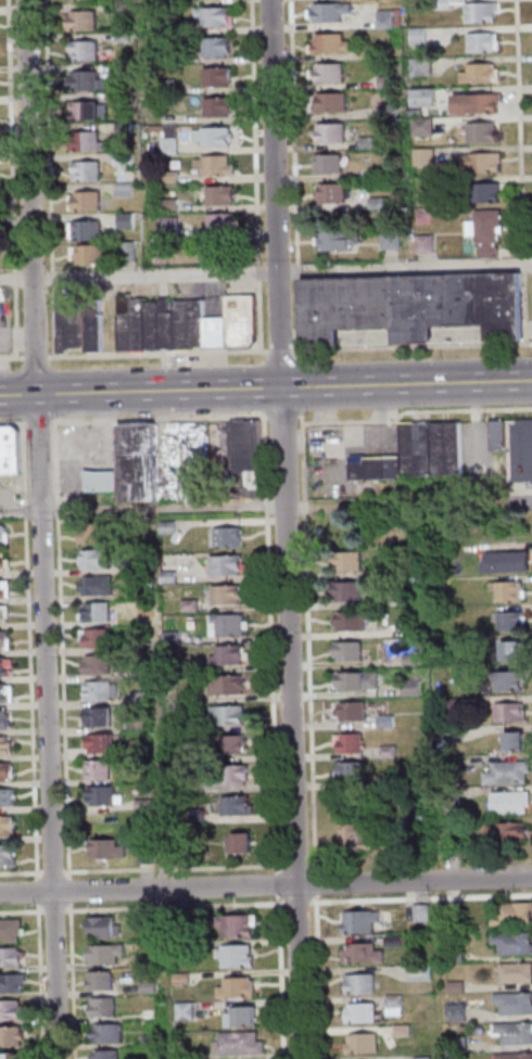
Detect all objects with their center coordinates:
building: (78, 0)
building: (454, 2)
building: (440, 4)
building: (117, 12)
building: (326, 12)
building: (477, 13)
building: (210, 16)
building: (382, 20)
building: (78, 22)
building: (164, 28)
road: (478, 29)
building: (119, 38)
building: (415, 38)
road: (507, 42)
building: (326, 43)
building: (479, 44)
building: (213, 48)
building: (80, 51)
building: (165, 58)
road: (490, 60)
building: (119, 71)
building: (325, 74)
building: (476, 74)
road: (507, 74)
building: (214, 77)
building: (84, 81)
building: (383, 82)
building: (163, 87)
road: (484, 89)
building: (420, 98)
building: (121, 101)
building: (328, 102)
building: (473, 104)
road: (516, 104)
building: (215, 107)
building: (385, 111)
building: (85, 112)
road: (483, 119)
building: (419, 127)
building: (121, 128)
building: (328, 132)
building: (478, 132)
building: (210, 138)
building: (166, 141)
building: (84, 142)
building: (365, 142)
road: (524, 148)
road: (478, 150)
building: (421, 157)
building: (121, 160)
road: (509, 160)
building: (325, 163)
building: (479, 163)
building: (212, 166)
building: (84, 171)
building: (377, 171)
building: (167, 177)
road: (291, 177)
road: (520, 178)
road: (50, 179)
road: (9, 180)
building: (122, 190)
building: (330, 193)
building: (482, 193)
road: (31, 196)
building: (217, 196)
building: (84, 202)
building: (375, 203)
building: (166, 205)
road: (522, 209)
building: (126, 219)
building: (223, 221)
building: (168, 224)
building: (85, 229)
building: (490, 230)
road: (519, 232)
road: (527, 235)
road: (515, 237)
building: (343, 240)
building: (394, 240)
building: (428, 244)
building: (127, 251)
building: (88, 253)
road: (405, 266)
road: (156, 276)
road: (16, 279)
building: (414, 304)
building: (240, 318)
building: (124, 320)
building: (188, 321)
building: (137, 322)
building: (68, 323)
building: (92, 323)
building: (151, 323)
building: (165, 324)
building: (214, 331)
road: (414, 348)
road: (284, 352)
road: (162, 355)
road: (39, 358)
road: (13, 359)
road: (284, 388)
road: (18, 395)
road: (15, 424)
road: (36, 424)
road: (479, 424)
building: (502, 435)
building: (434, 448)
building: (521, 449)
building: (14, 450)
building: (2, 451)
building: (250, 451)
building: (141, 462)
building: (380, 468)
building: (105, 480)
building: (225, 488)
road: (207, 505)
building: (172, 527)
road: (288, 528)
building: (99, 533)
building: (5, 535)
building: (231, 536)
building: (98, 559)
building: (352, 560)
building: (3, 561)
building: (509, 562)
building: (229, 564)
building: (413, 567)
building: (173, 576)
building: (99, 585)
building: (5, 588)
building: (351, 591)
building: (510, 591)
building: (230, 594)
building: (404, 601)
building: (193, 605)
building: (100, 611)
building: (5, 613)
building: (514, 620)
building: (356, 621)
building: (231, 626)
building: (416, 626)
building: (176, 637)
building: (100, 638)
building: (5, 641)
road: (50, 642)
building: (454, 643)
building: (352, 650)
building: (515, 650)
road: (33, 652)
building: (231, 654)
building: (415, 659)
building: (100, 663)
building: (195, 665)
building: (8, 666)
building: (360, 680)
building: (507, 680)
building: (229, 686)
building: (415, 688)
building: (102, 690)
building: (8, 693)
building: (142, 698)
building: (453, 707)
building: (355, 711)
building: (514, 712)
building: (235, 715)
building: (102, 716)
building: (5, 719)
building: (141, 719)
building: (390, 722)
building: (198, 727)
building: (518, 740)
building: (353, 742)
building: (103, 743)
building: (235, 743)
building: (4, 745)
building: (142, 748)
building: (392, 751)
building: (199, 758)
building: (102, 769)
building: (7, 770)
building: (357, 770)
building: (239, 774)
building: (510, 774)
building: (417, 775)
building: (200, 786)
building: (103, 794)
building: (9, 796)
building: (455, 798)
building: (512, 802)
building: (148, 803)
building: (242, 804)
building: (201, 815)
building: (8, 826)
building: (510, 831)
building: (364, 839)
building: (242, 842)
building: (455, 844)
building: (112, 847)
building: (10, 854)
building: (150, 854)
building: (181, 854)
road: (296, 865)
road: (52, 871)
road: (23, 872)
road: (295, 885)
road: (319, 890)
road: (281, 891)
road: (40, 892)
road: (29, 893)
road: (74, 896)
road: (422, 897)
road: (301, 903)
road: (178, 907)
road: (23, 911)
road: (58, 911)
building: (421, 911)
building: (514, 914)
building: (358, 921)
building: (155, 923)
building: (185, 923)
building: (241, 924)
building: (106, 927)
building: (12, 928)
building: (394, 939)
building: (514, 942)
building: (185, 946)
building: (109, 953)
building: (362, 953)
building: (456, 955)
building: (239, 956)
building: (12, 957)
building: (152, 960)
building: (516, 971)
building: (420, 972)
road: (60, 975)
road: (283, 977)
road: (321, 977)
building: (186, 979)
road: (75, 980)
road: (43, 981)
building: (104, 981)
building: (13, 982)
building: (360, 983)
building: (454, 984)
building: (153, 986)
building: (241, 987)
building: (515, 1001)
building: (394, 1004)
building: (106, 1007)
building: (11, 1009)
building: (188, 1011)
building: (360, 1011)
building: (456, 1011)
building: (154, 1015)
building: (244, 1017)
building: (402, 1030)
building: (514, 1031)
building: (111, 1033)
building: (11, 1035)
building: (154, 1041)
building: (360, 1042)
building: (243, 1044)
building: (457, 1044)
building: (111, 1055)
building: (202, 1055)
building: (15, 1056)
building: (514, 1056)
building: (422, 1058)

